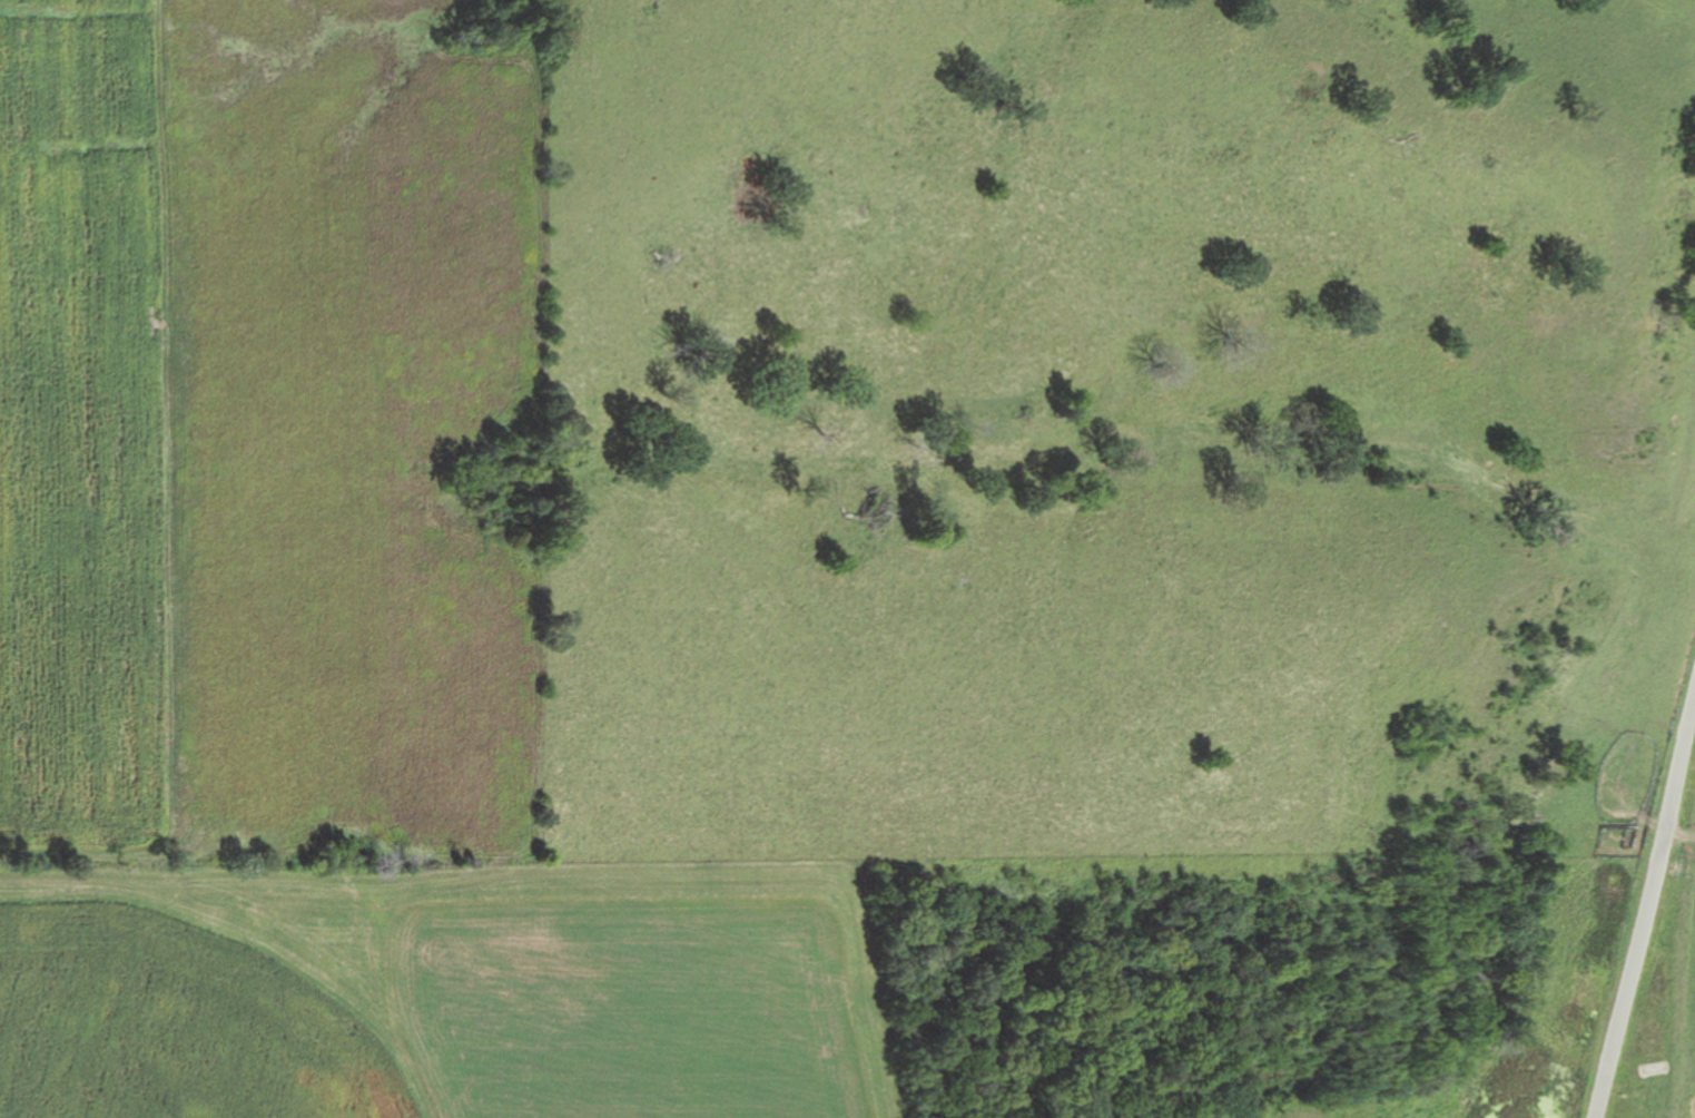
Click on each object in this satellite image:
road: (1642, 892)

